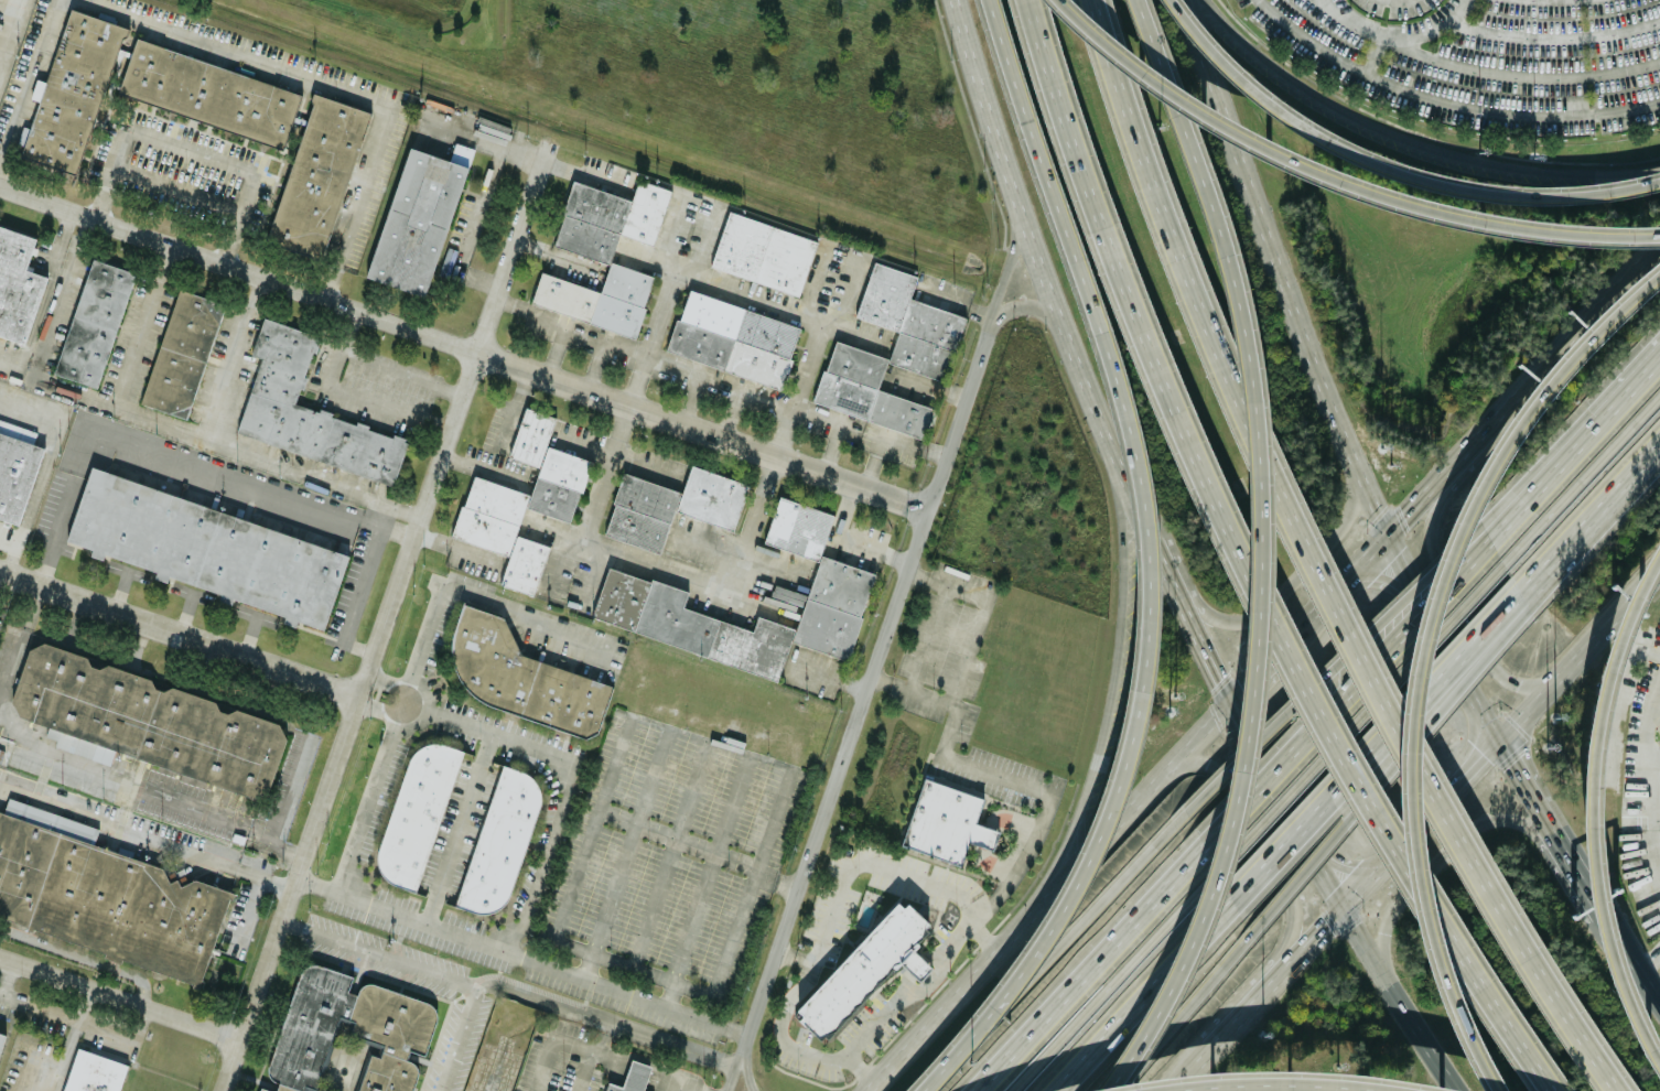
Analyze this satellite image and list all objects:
road: (1327, 4)
road: (8, 25)
road: (1436, 30)
road: (1555, 36)
road: (238, 53)
road: (1480, 68)
road: (29, 80)
building: (73, 91)
building: (209, 94)
road: (1446, 100)
road: (1412, 138)
road: (188, 151)
road: (998, 163)
road: (1382, 168)
building: (319, 175)
road: (1338, 179)
road: (176, 188)
road: (358, 203)
building: (416, 220)
road: (668, 234)
road: (703, 236)
building: (605, 250)
building: (763, 251)
road: (1181, 264)
road: (1002, 273)
building: (17, 284)
road: (751, 290)
road: (1125, 291)
road: (42, 298)
road: (57, 298)
road: (1020, 305)
road: (529, 312)
building: (94, 323)
building: (734, 338)
road: (463, 346)
road: (626, 348)
building: (921, 348)
road: (554, 352)
building: (182, 354)
road: (226, 357)
road: (596, 367)
road: (129, 369)
road: (401, 371)
road: (697, 372)
road: (1324, 380)
road: (930, 388)
road: (1081, 389)
road: (352, 391)
road: (73, 393)
road: (733, 401)
road: (515, 404)
building: (308, 411)
road: (839, 426)
road: (1569, 430)
road: (887, 438)
road: (585, 442)
road: (1574, 442)
road: (779, 455)
road: (174, 457)
road: (1130, 458)
road: (482, 463)
road: (43, 465)
road: (606, 468)
building: (15, 469)
road: (1584, 475)
road: (309, 477)
road: (1631, 488)
building: (522, 501)
building: (671, 505)
road: (1138, 518)
traffic signals: (1387, 526)
road: (851, 540)
road: (7, 543)
building: (207, 548)
road: (1265, 551)
road: (1564, 557)
road: (1569, 560)
road: (125, 570)
road: (1297, 574)
road: (1379, 579)
building: (840, 580)
traffic signals: (1361, 580)
road: (355, 587)
road: (119, 591)
road: (188, 592)
road: (475, 597)
road: (1458, 605)
road: (978, 611)
road: (182, 613)
road: (256, 616)
road: (384, 618)
road: (179, 634)
road: (248, 636)
road: (930, 637)
road: (1196, 640)
road: (20, 641)
road: (1427, 656)
road: (1581, 657)
road: (1260, 659)
road: (1330, 668)
building: (519, 678)
road: (867, 682)
road: (1347, 694)
road: (366, 698)
road: (1106, 699)
traffic signals: (1222, 699)
road: (428, 701)
road: (1657, 701)
road: (1386, 711)
road: (1362, 715)
road: (1653, 716)
building: (148, 722)
road: (15, 731)
road: (499, 735)
traffic signals: (1501, 745)
road: (1379, 752)
road: (1338, 753)
road: (1255, 760)
road: (614, 761)
road: (1392, 767)
road: (995, 773)
road: (1474, 773)
road: (291, 785)
road: (1532, 795)
road: (170, 799)
road: (1600, 810)
road: (365, 811)
building: (417, 812)
building: (945, 821)
road: (460, 828)
road: (145, 836)
road: (1268, 839)
building: (500, 840)
road: (625, 852)
road: (671, 855)
road: (541, 857)
road: (1393, 858)
road: (1335, 860)
road: (870, 862)
road: (1426, 863)
traffic signals: (1349, 865)
road: (1314, 868)
road: (1582, 876)
road: (704, 879)
building: (101, 893)
road: (248, 908)
traffic signals: (1339, 915)
road: (1314, 942)
road: (578, 948)
road: (1630, 952)
road: (377, 954)
road: (82, 955)
road: (521, 955)
road: (1043, 960)
road: (1650, 960)
building: (862, 968)
road: (1090, 971)
road: (6, 972)
road: (1111, 981)
road: (913, 990)
road: (1560, 991)
road: (121, 997)
road: (9, 1000)
road: (1145, 1000)
road: (1392, 1004)
road: (1251, 1007)
road: (991, 1011)
road: (1181, 1011)
road: (1494, 1011)
road: (605, 1020)
building: (0, 1033)
building: (347, 1035)
road: (121, 1036)
road: (604, 1037)
road: (68, 1038)
road: (460, 1039)
road: (548, 1044)
road: (789, 1048)
road: (594, 1050)
road: (614, 1057)
road: (498, 1062)
road: (737, 1063)
road: (748, 1063)
road: (639, 1066)
road: (1195, 1069)
road: (582, 1070)
building: (91, 1072)
road: (666, 1077)
building: (630, 1078)
road: (1279, 1084)
road: (679, 1088)
road: (690, 1088)

